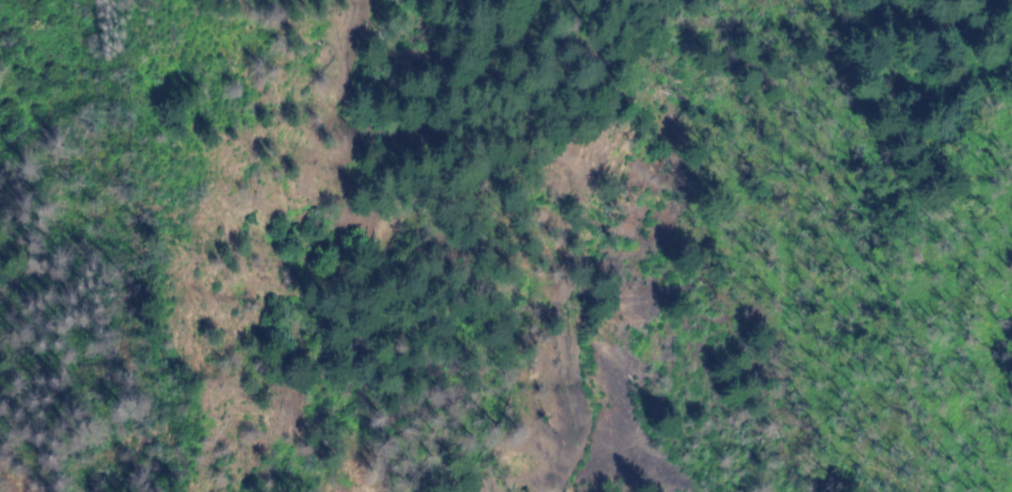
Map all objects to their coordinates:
road: (154, 215)
road: (170, 356)

